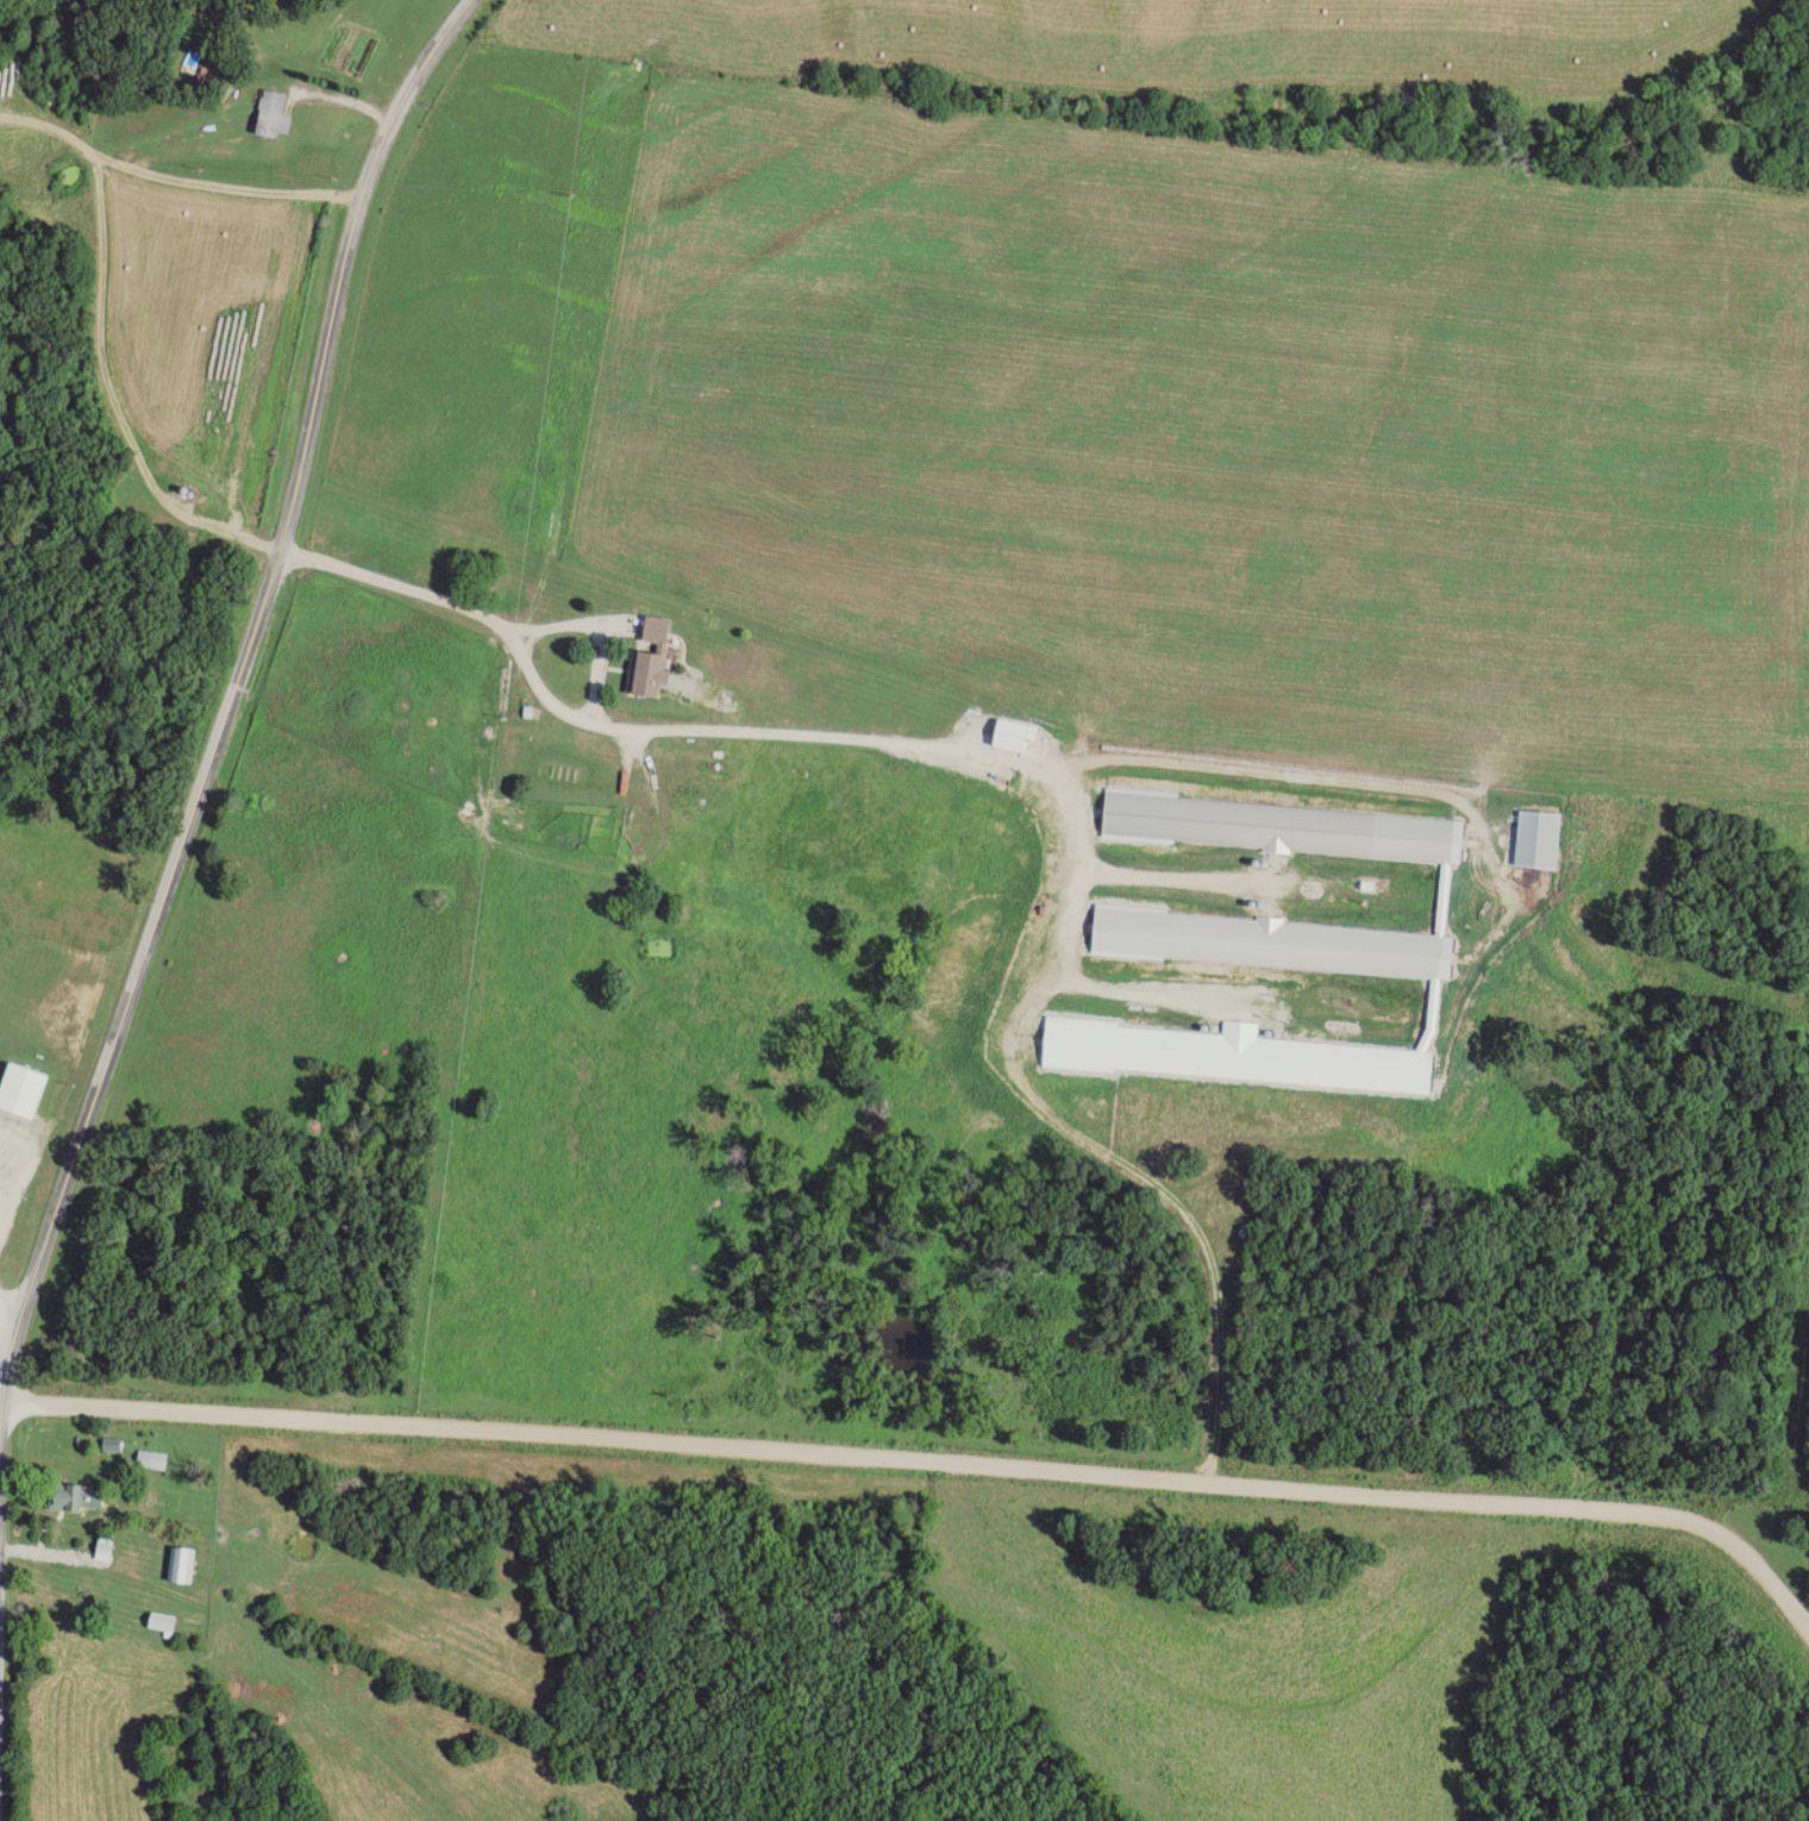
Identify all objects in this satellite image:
building: (277, 115)
road: (101, 349)
road: (597, 632)
building: (659, 657)
road: (230, 699)
road: (744, 732)
building: (640, 826)
building: (1542, 838)
building: (1269, 946)
building: (26, 1090)
road: (8, 1315)
road: (927, 1456)
building: (79, 1497)
building: (108, 1544)
building: (186, 1564)
building: (167, 1622)

